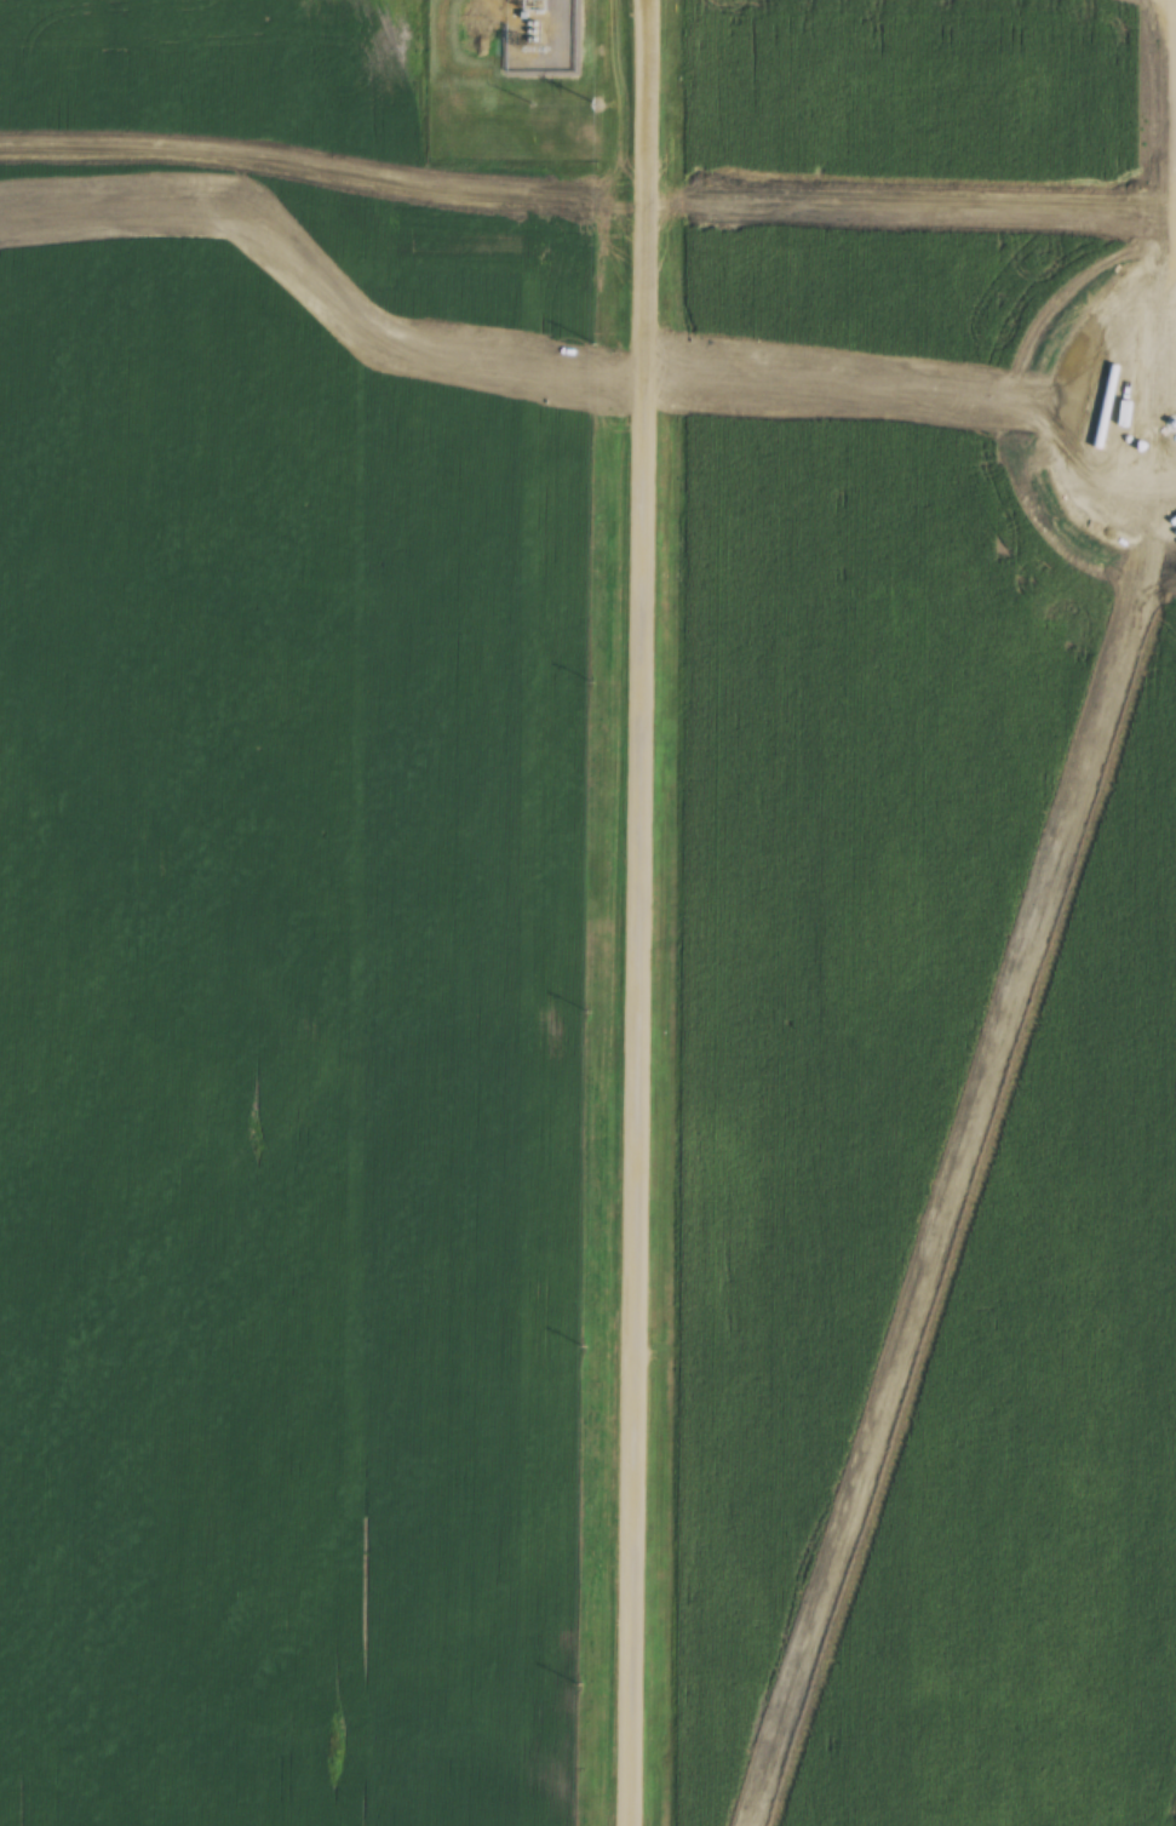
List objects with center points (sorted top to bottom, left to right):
wind turbine: (1157, 418)
road: (639, 912)

